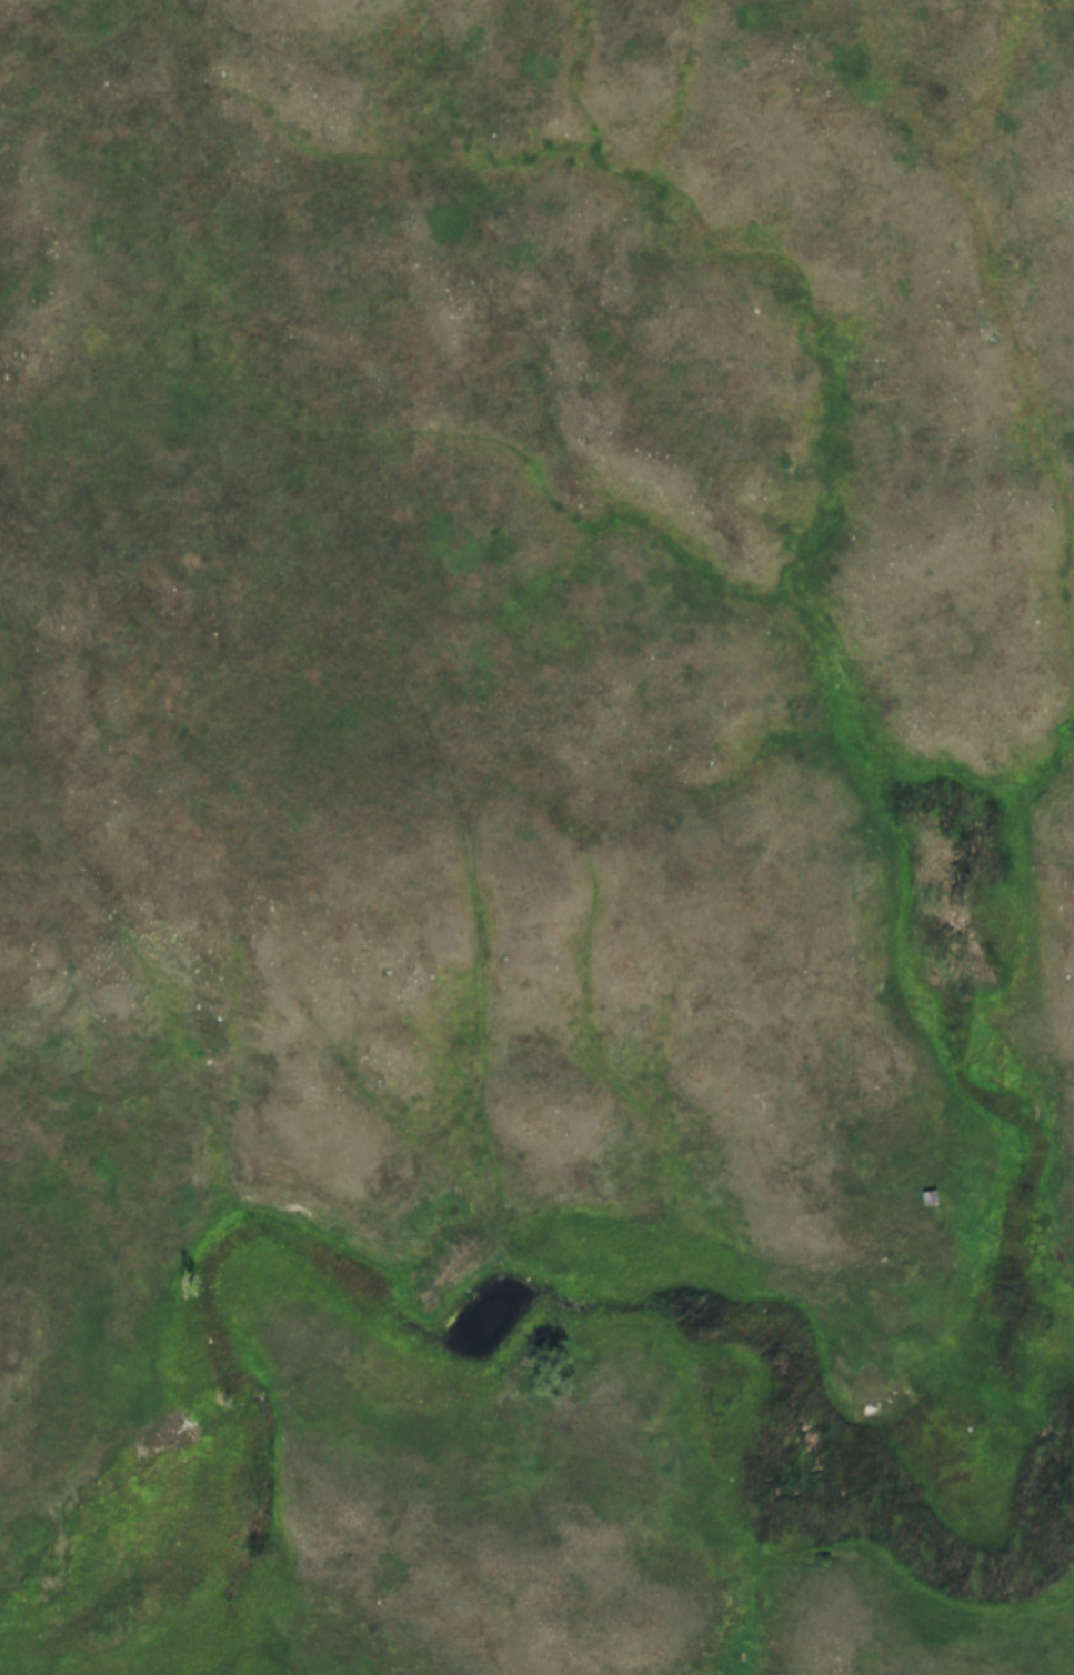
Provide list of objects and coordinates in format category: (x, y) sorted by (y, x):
building: (930, 1200)

